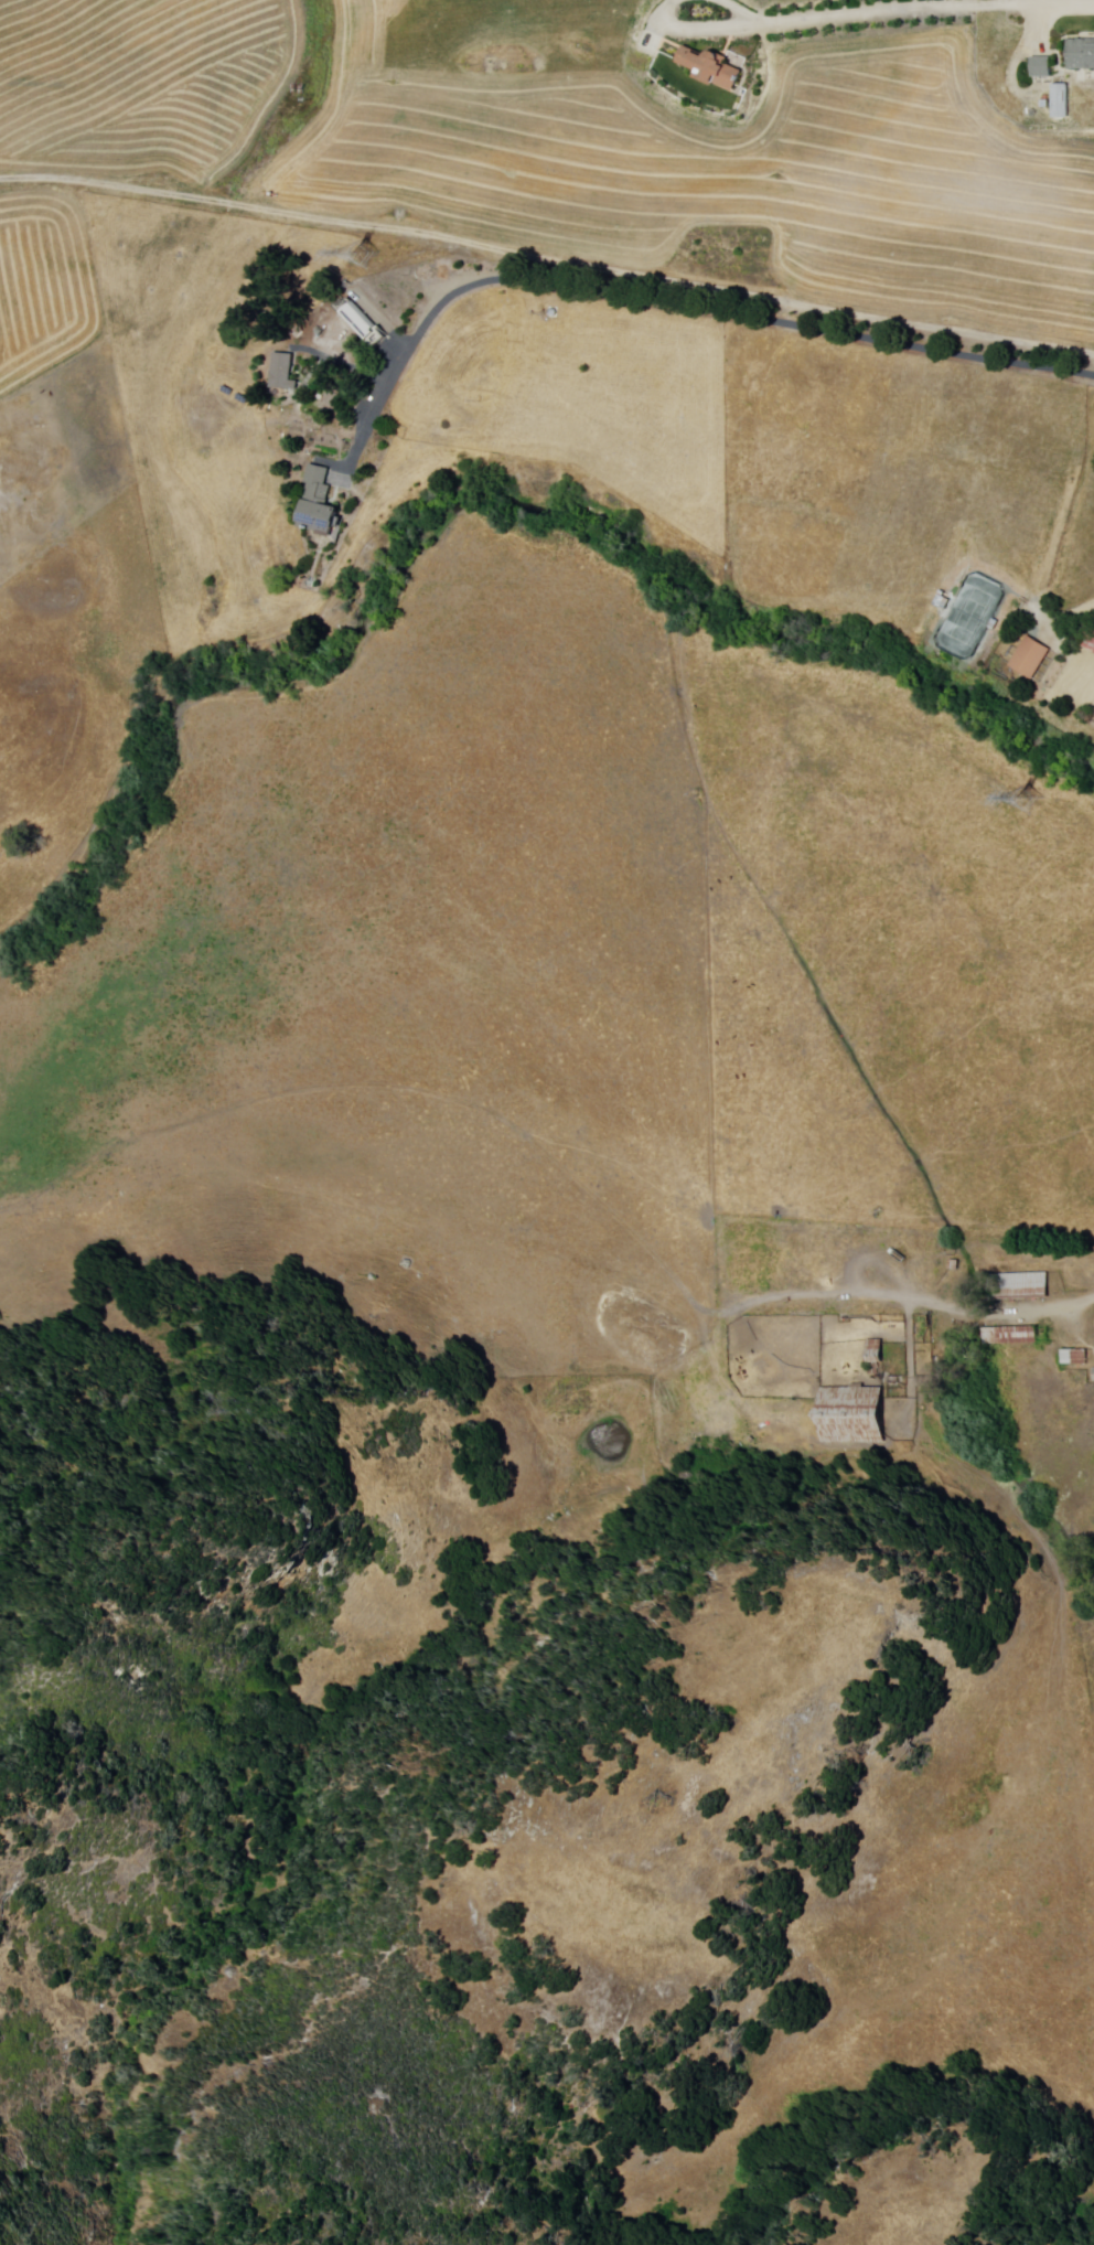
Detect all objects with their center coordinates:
road: (927, 8)
road: (741, 11)
road: (704, 29)
building: (1082, 55)
building: (1044, 67)
building: (712, 73)
building: (1063, 101)
power tower: (355, 253)
road: (547, 258)
road: (672, 302)
building: (364, 324)
road: (343, 361)
building: (286, 371)
building: (321, 503)
park: (969, 616)
building: (1091, 642)
building: (1031, 658)
road: (1084, 692)
power tower: (1018, 798)
building: (1021, 1287)
road: (921, 1303)
building: (1011, 1336)
building: (1075, 1355)
building: (878, 1357)
building: (1092, 1375)
building: (852, 1414)

